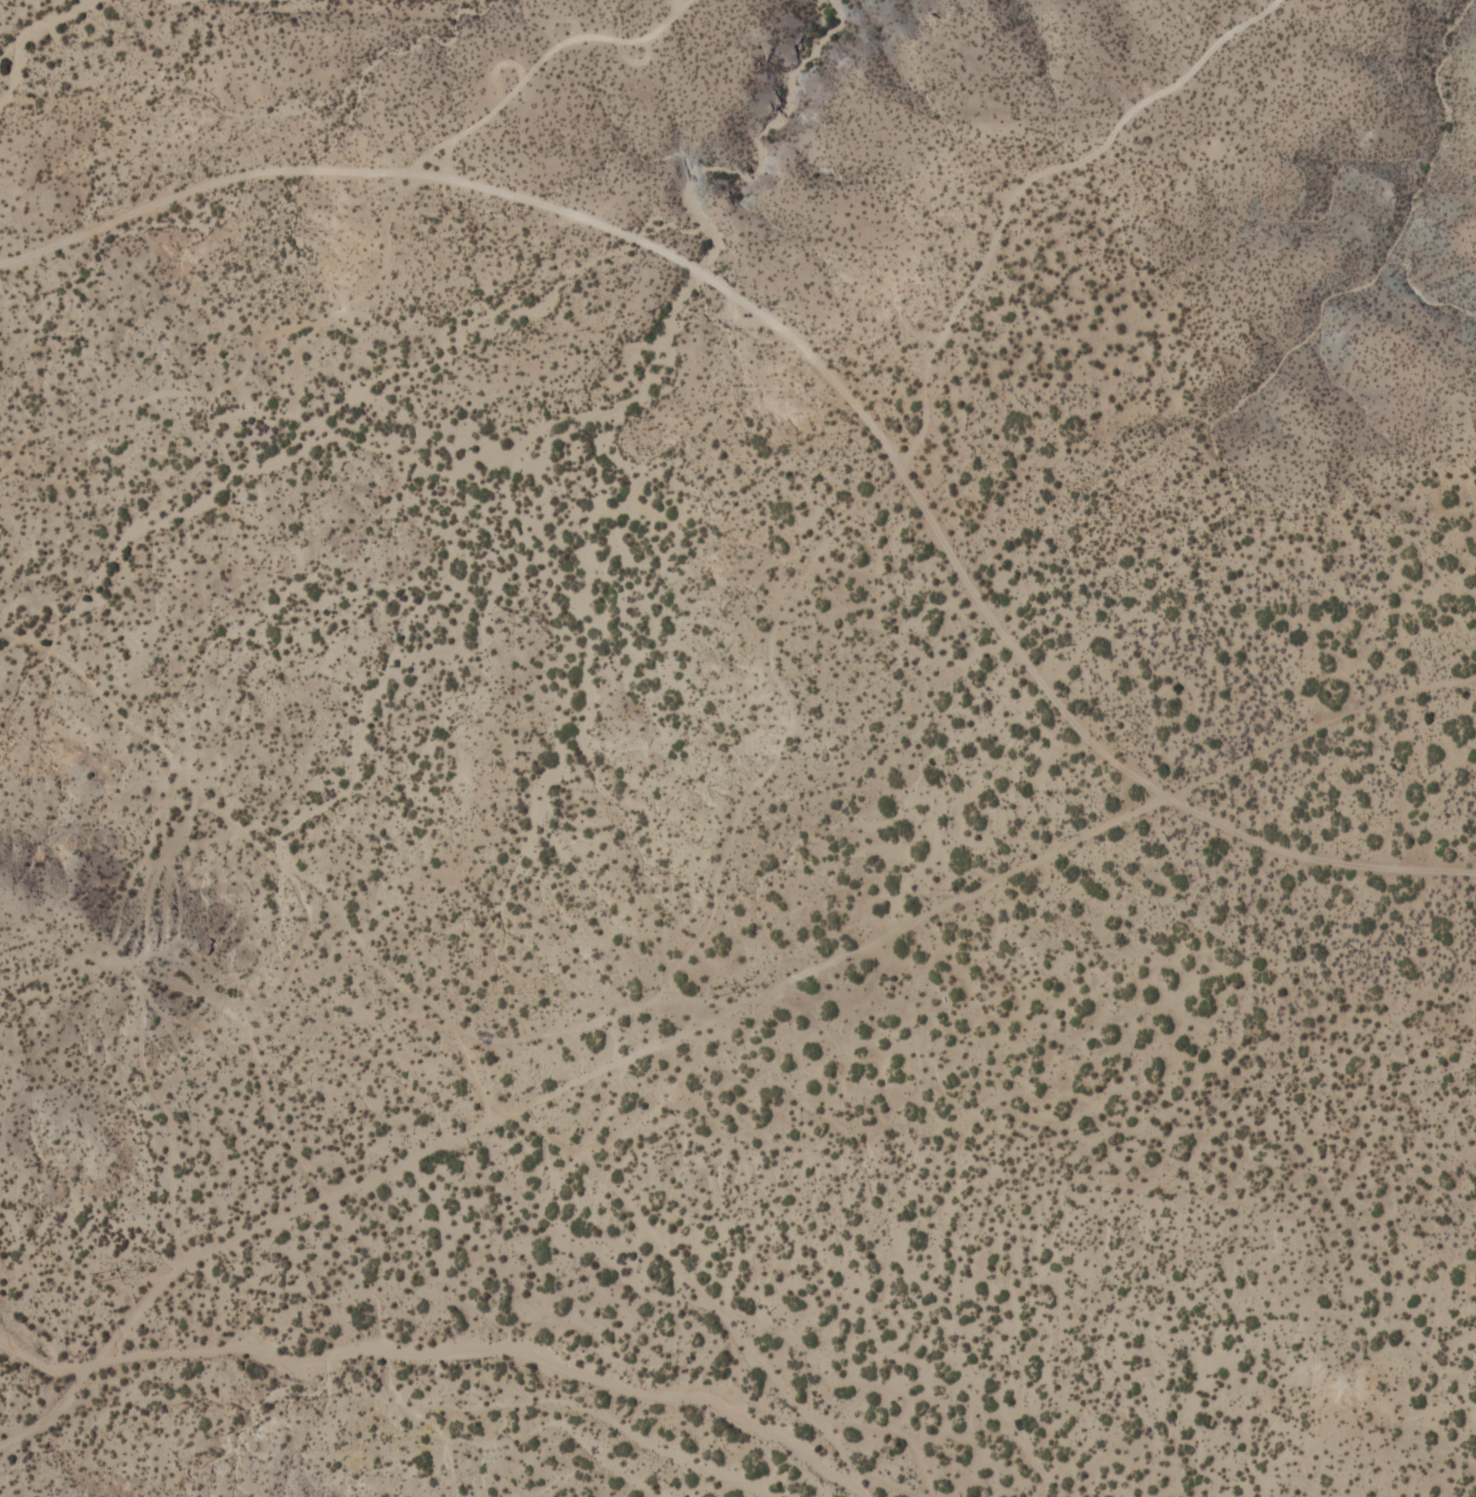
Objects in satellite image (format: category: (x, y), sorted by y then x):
building: (139, 97)
road: (1020, 183)
road: (816, 369)
power tower: (1230, 758)
road: (1000, 896)
power tower: (716, 995)
road: (257, 1267)
power tower: (97, 1280)

